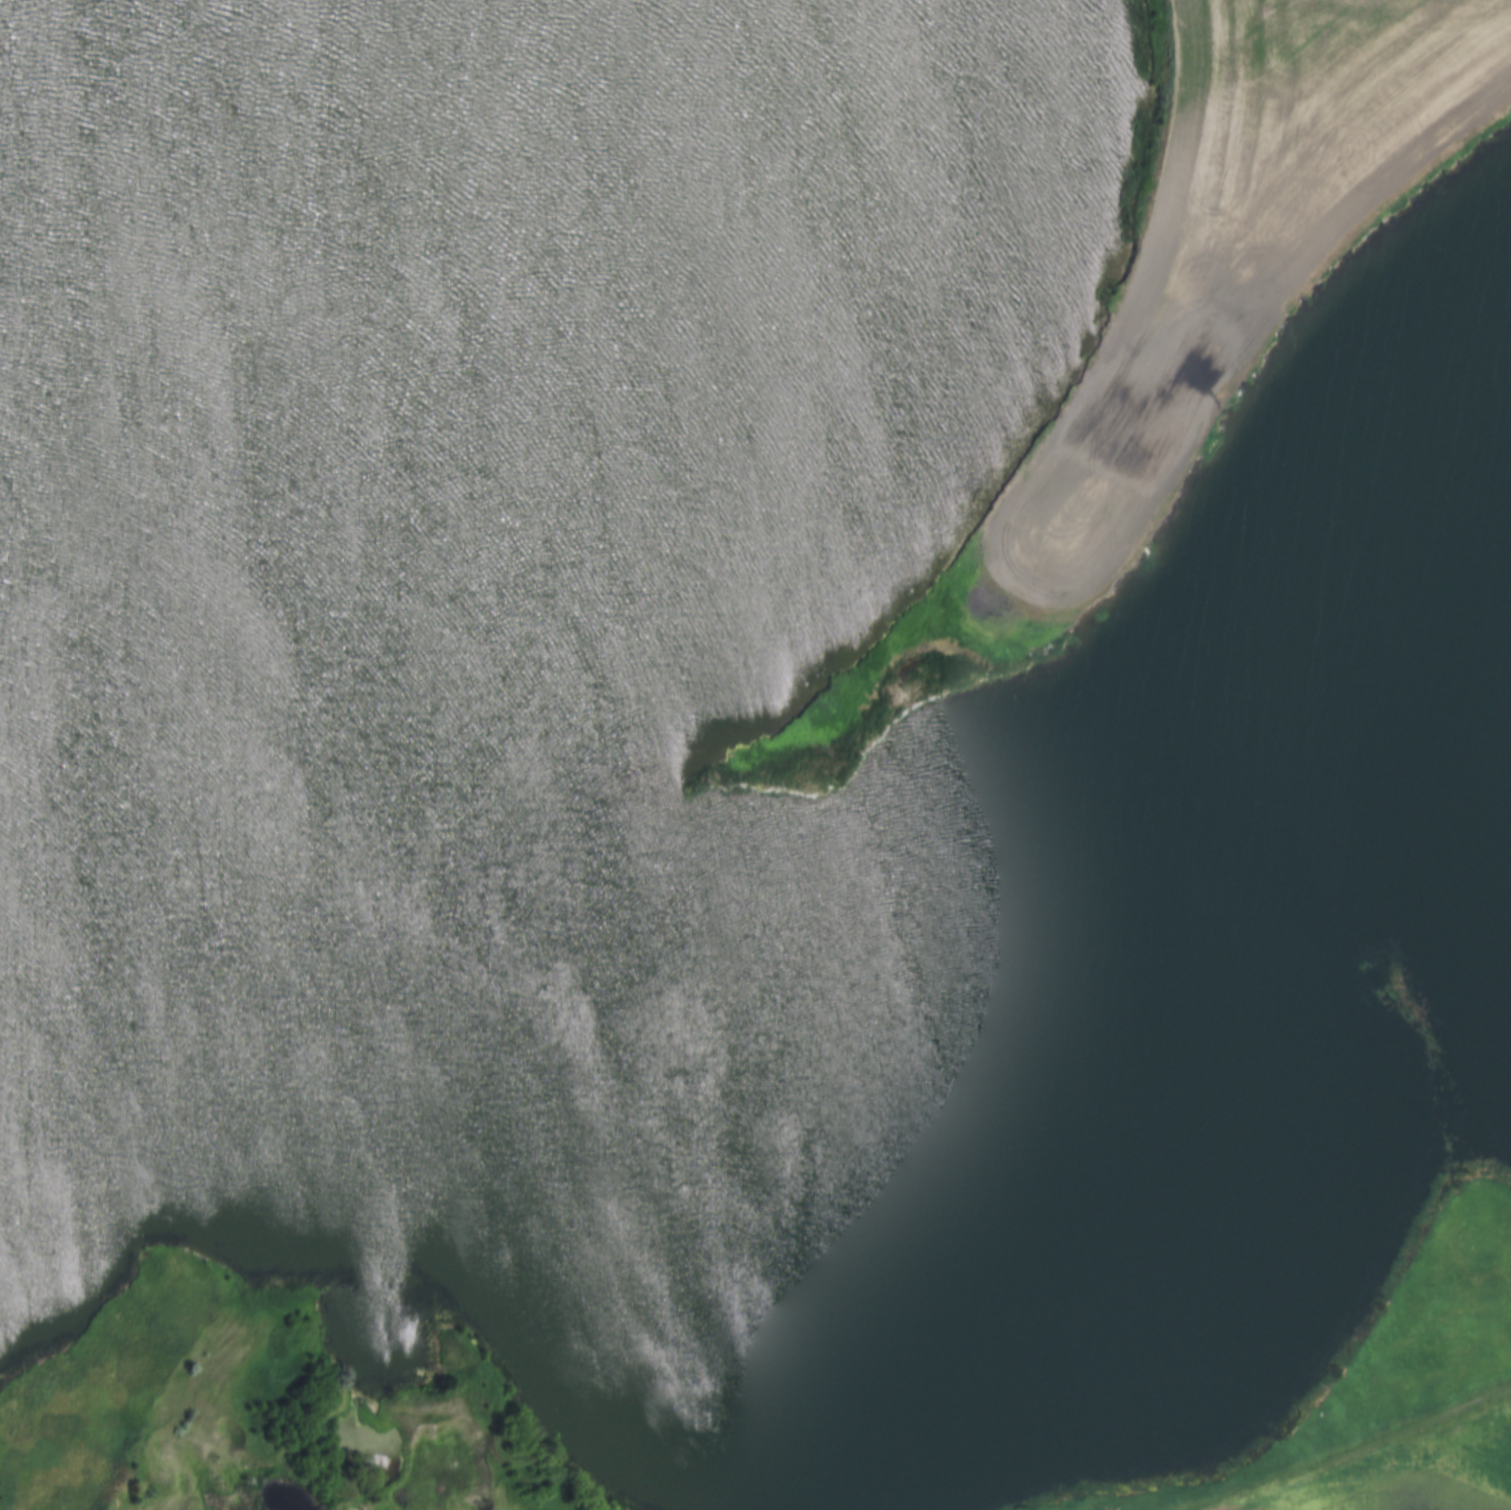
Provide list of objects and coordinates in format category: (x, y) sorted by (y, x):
road: (1352, 1449)

